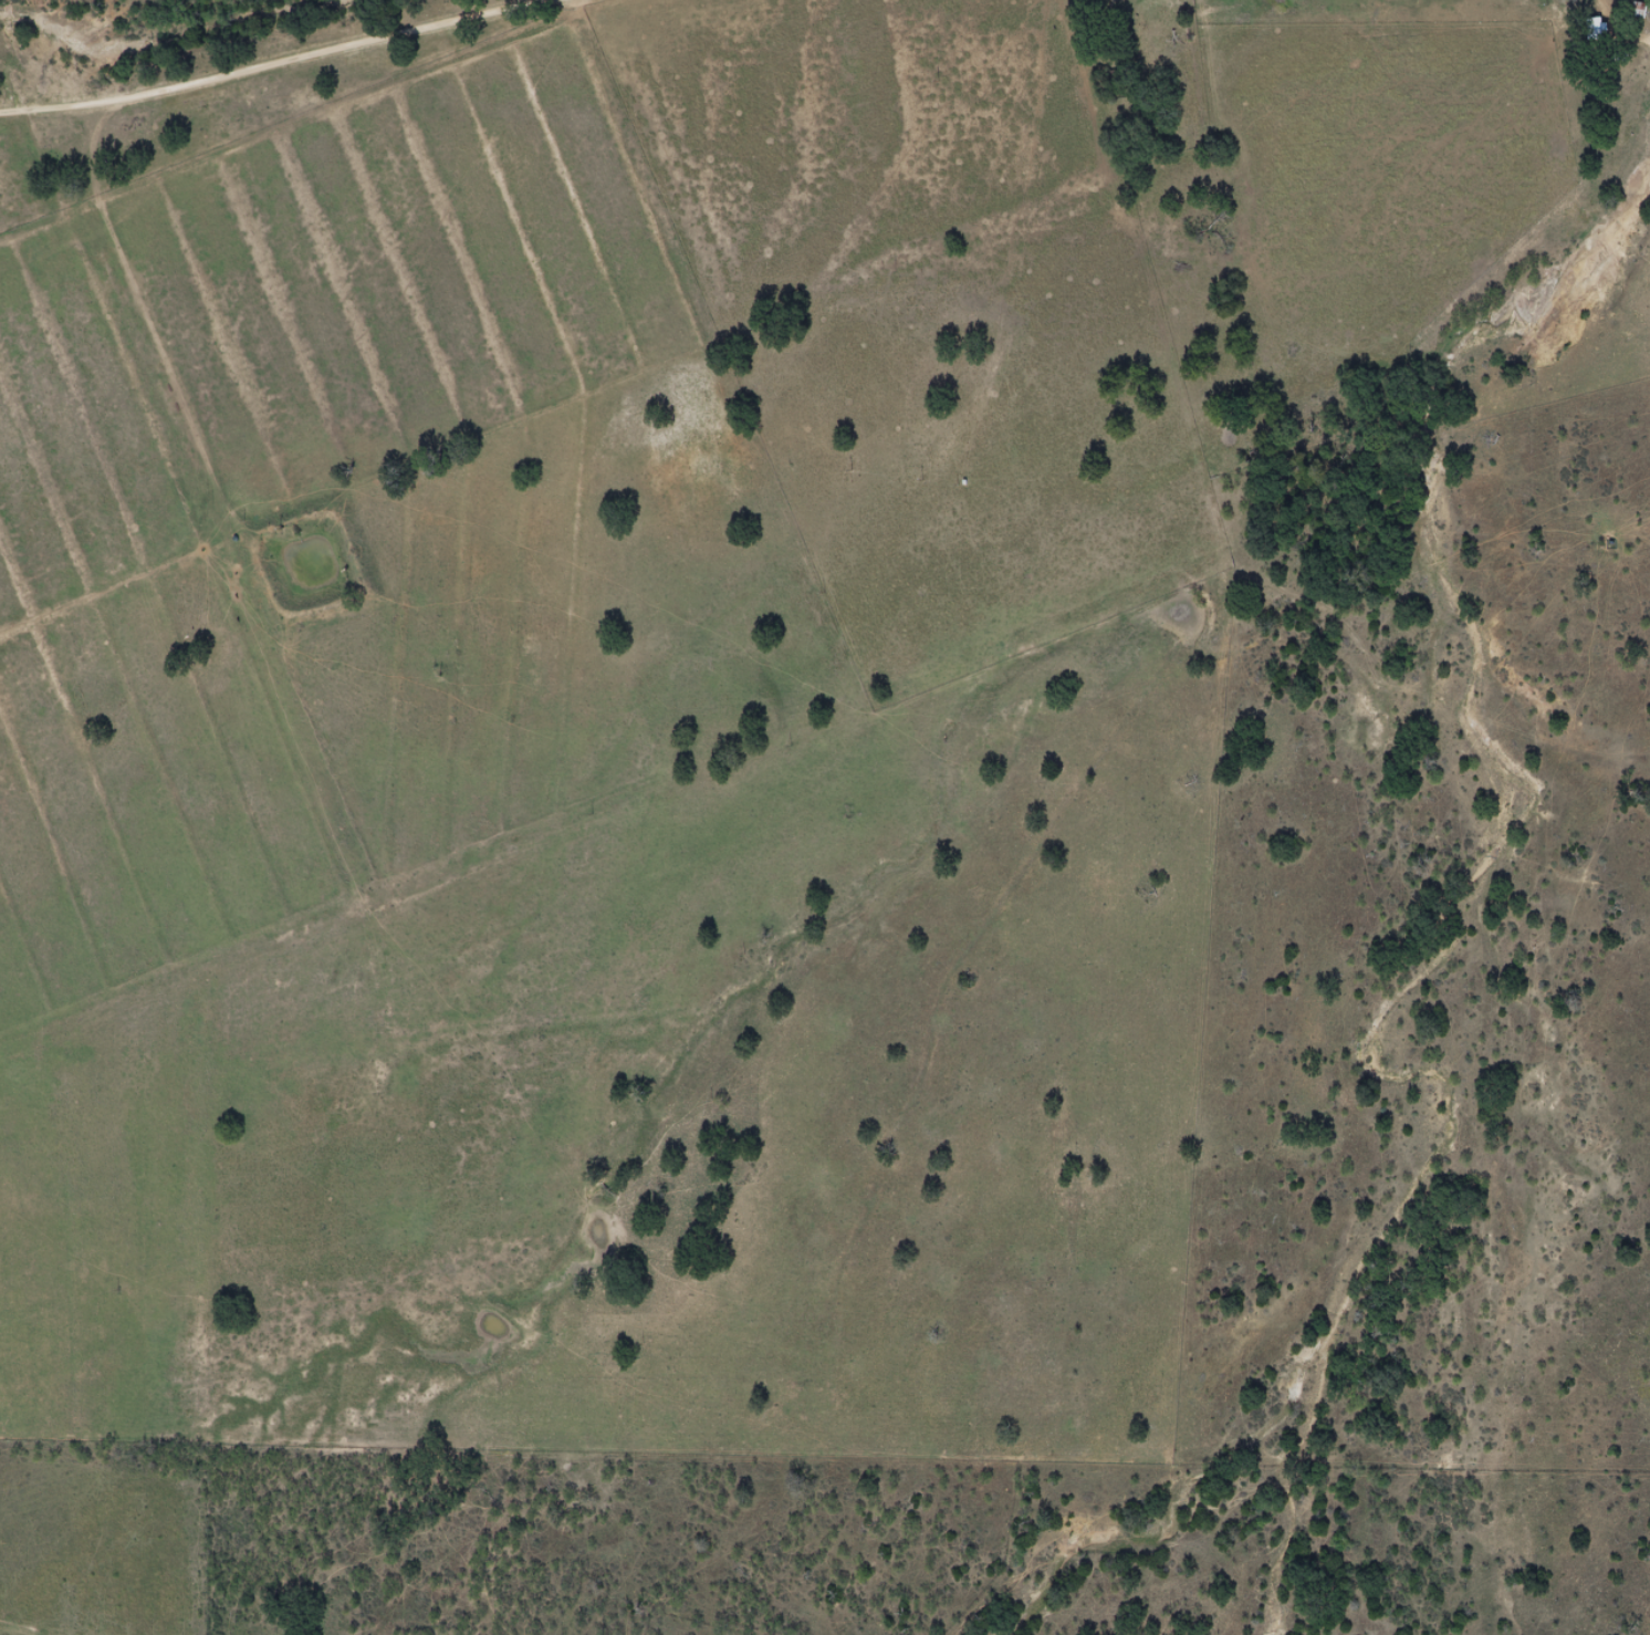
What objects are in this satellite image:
road: (1597, 21)
road: (348, 105)

